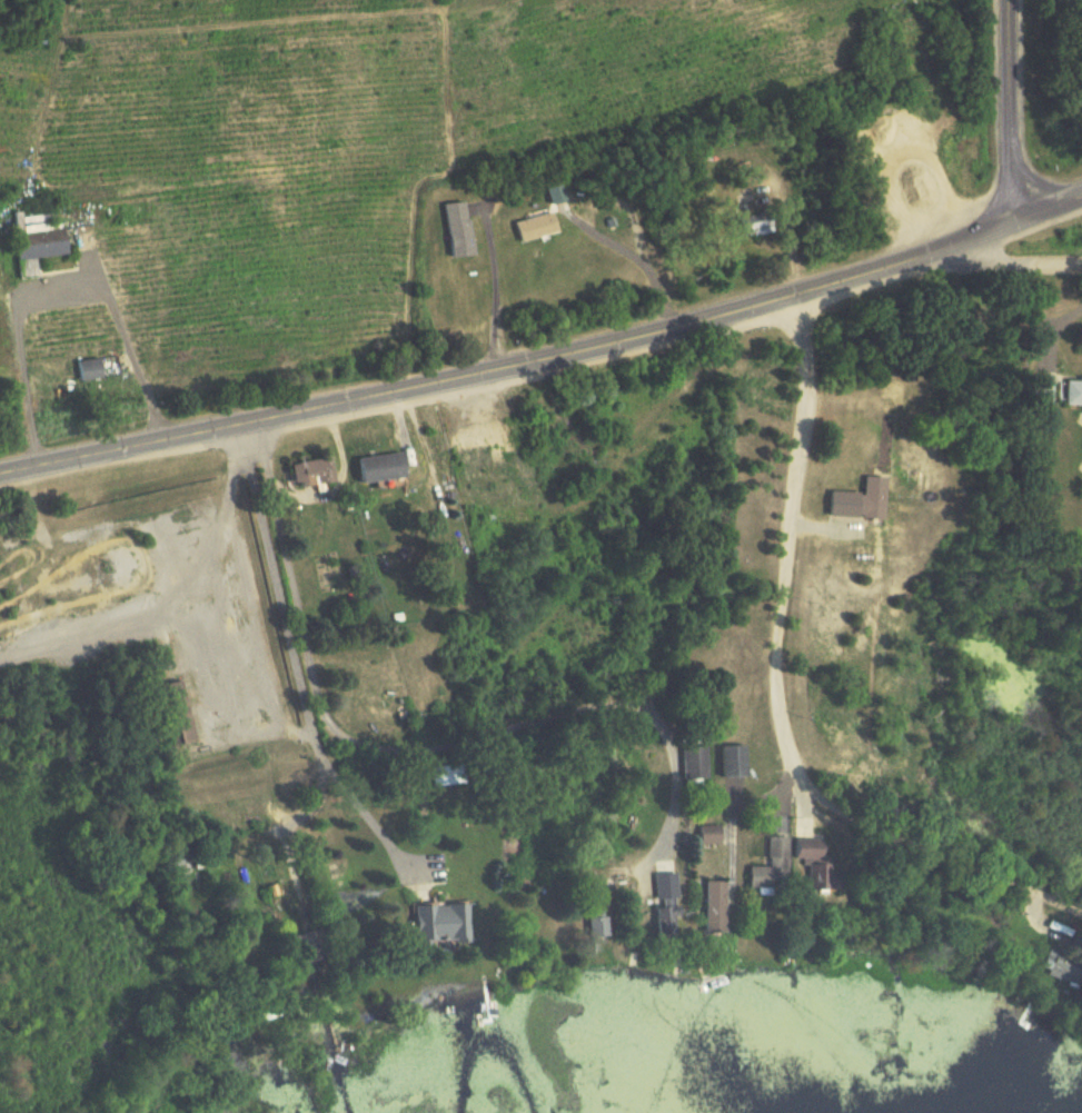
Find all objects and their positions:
road: (1004, 109)
building: (877, 199)
building: (755, 222)
road: (592, 225)
building: (534, 228)
building: (456, 230)
building: (37, 236)
road: (1003, 264)
road: (495, 281)
road: (56, 284)
road: (546, 350)
building: (87, 368)
building: (1039, 388)
building: (1071, 390)
building: (473, 459)
building: (374, 467)
building: (302, 471)
building: (868, 497)
road: (241, 589)
road: (292, 624)
road: (772, 693)
building: (169, 713)
road: (418, 757)
building: (731, 761)
building: (696, 762)
road: (371, 814)
building: (705, 835)
building: (811, 862)
building: (770, 867)
building: (665, 903)
building: (711, 908)
building: (589, 916)
building: (434, 924)
building: (1060, 967)

